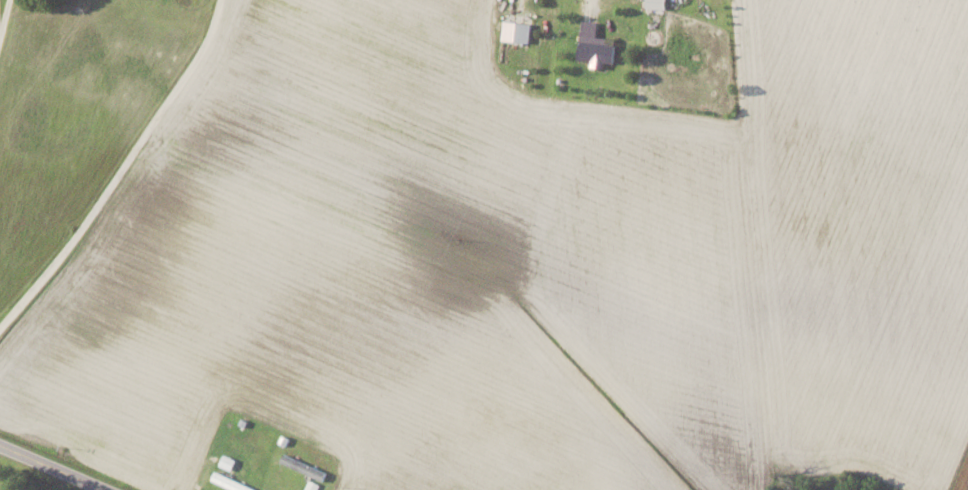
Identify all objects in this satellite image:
road: (587, 3)
building: (657, 3)
road: (4, 17)
building: (517, 30)
building: (596, 44)
road: (120, 169)
building: (304, 466)
road: (46, 471)

